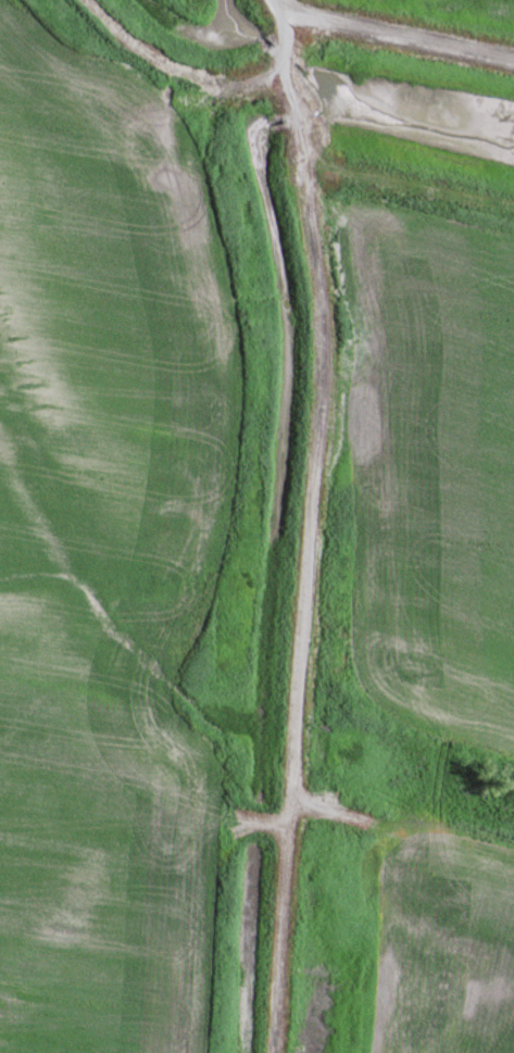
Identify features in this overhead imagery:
road: (391, 34)
road: (311, 531)

